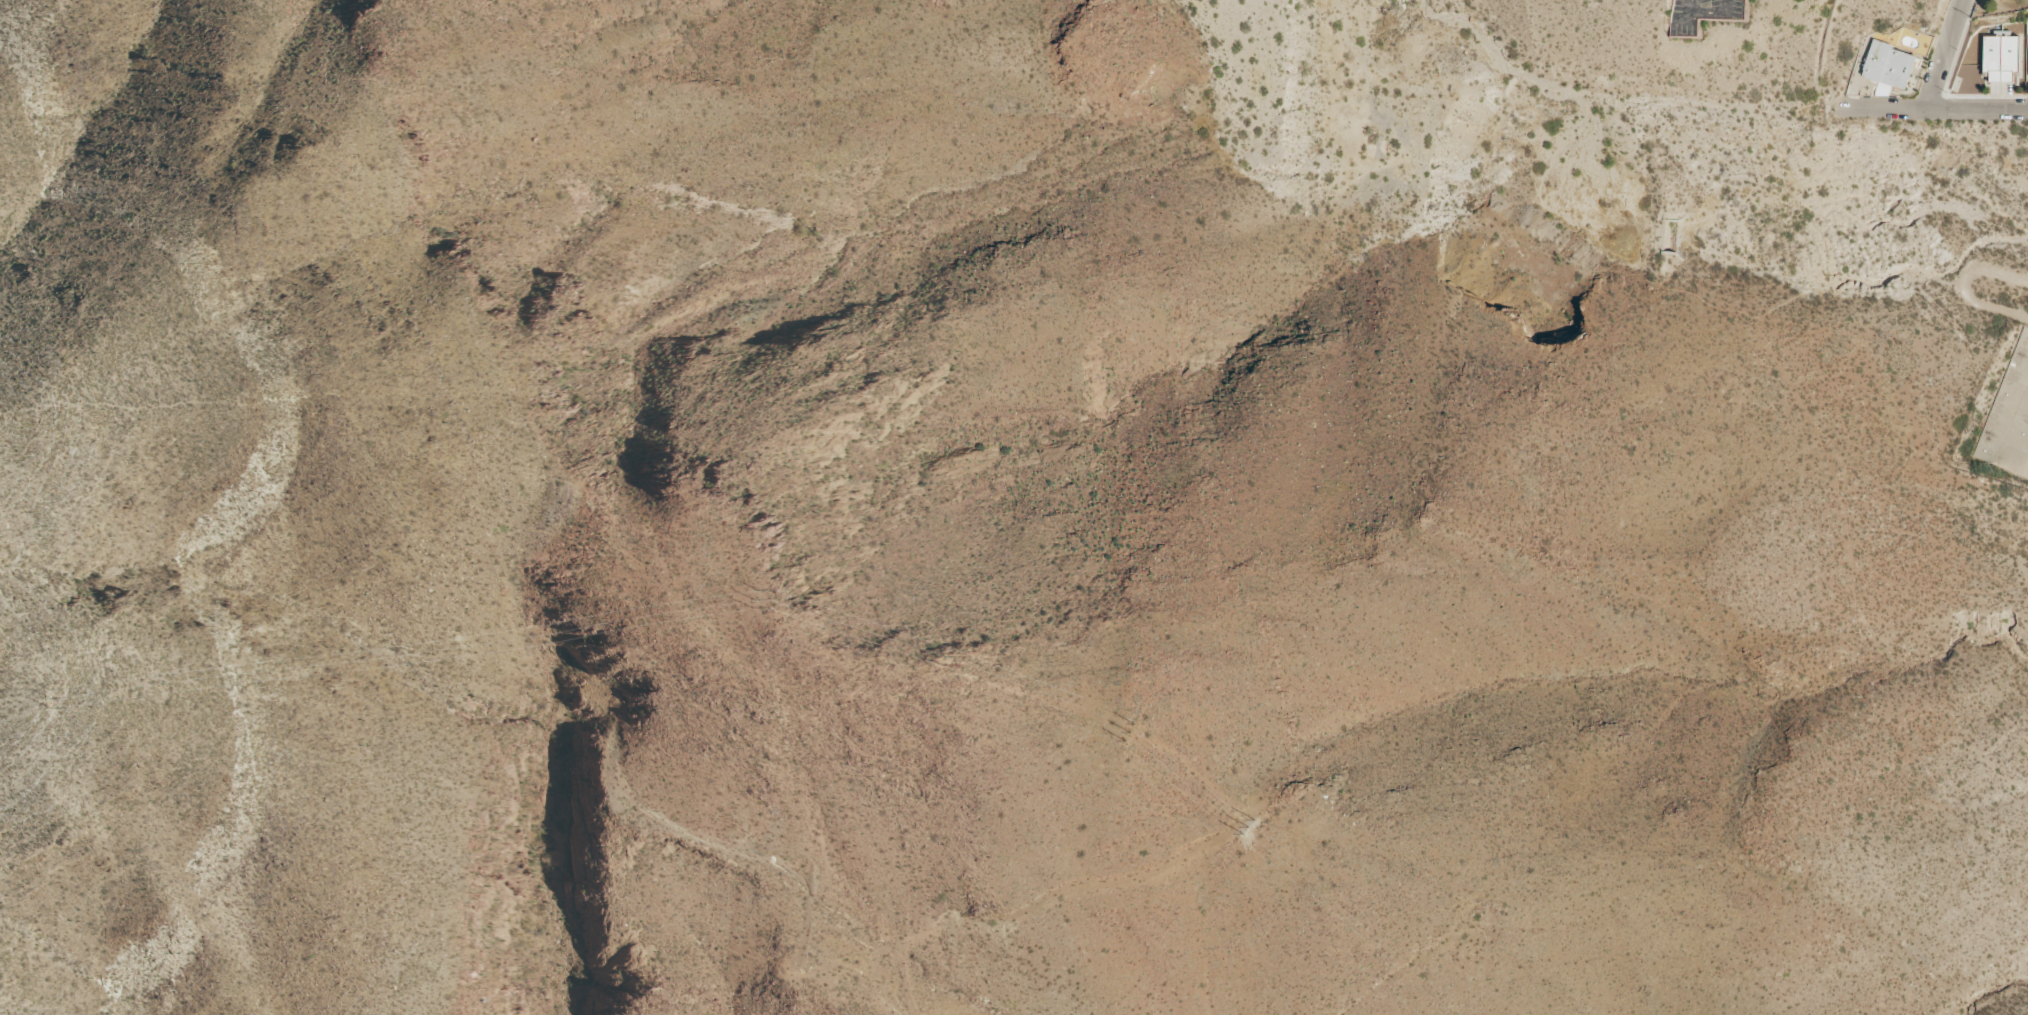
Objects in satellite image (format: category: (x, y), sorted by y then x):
road: (1944, 54)
building: (2000, 56)
building: (1888, 66)
road: (1933, 109)
road: (1964, 284)

